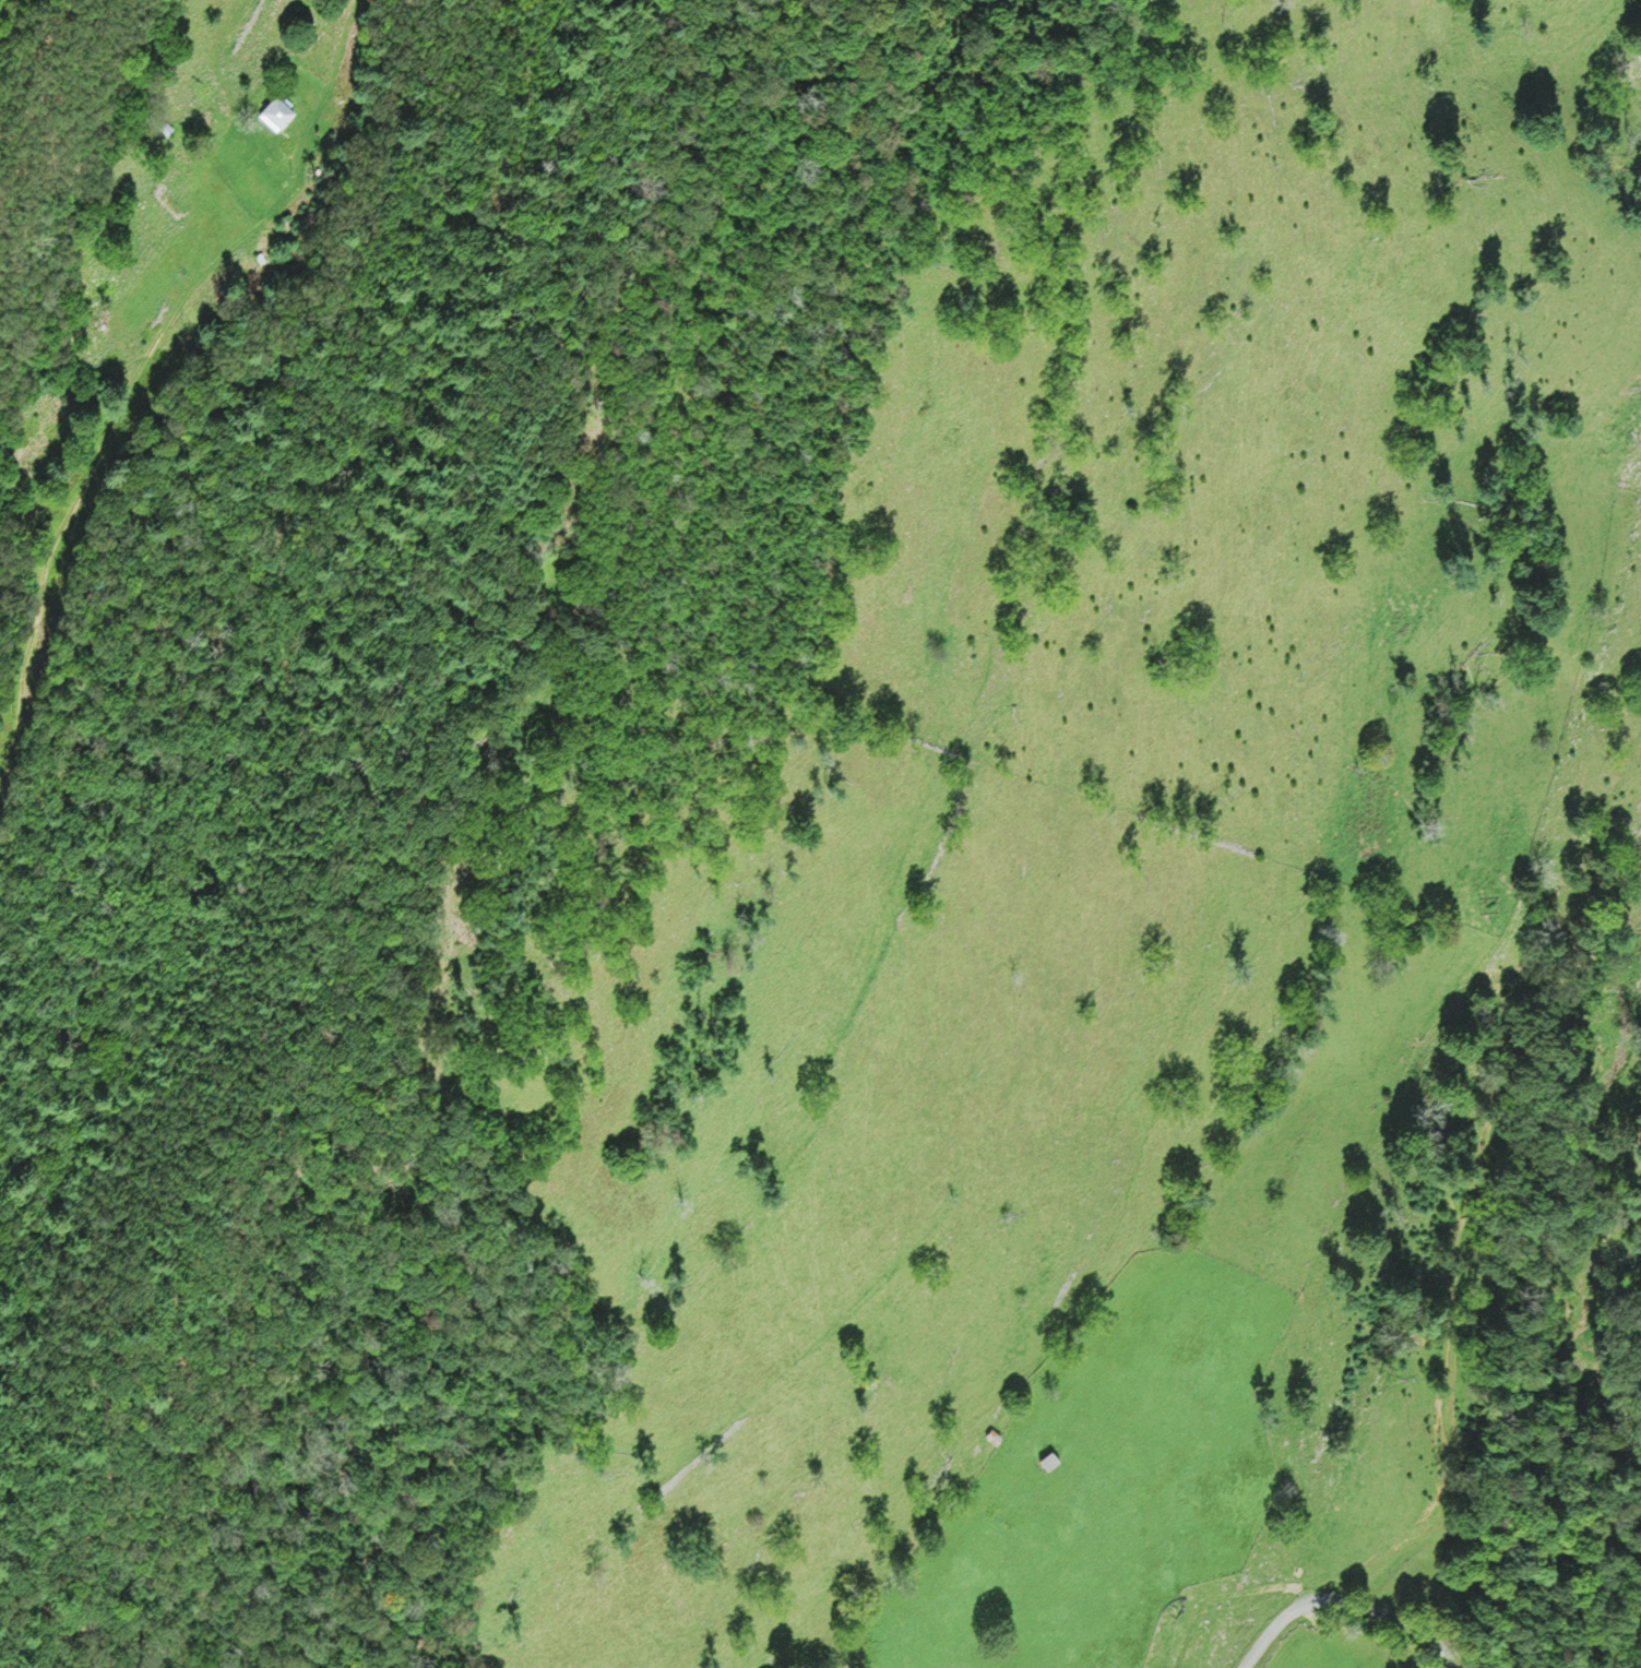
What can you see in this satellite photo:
building: (280, 111)
road: (145, 364)
building: (996, 1434)
building: (1051, 1457)
road: (1348, 1604)

